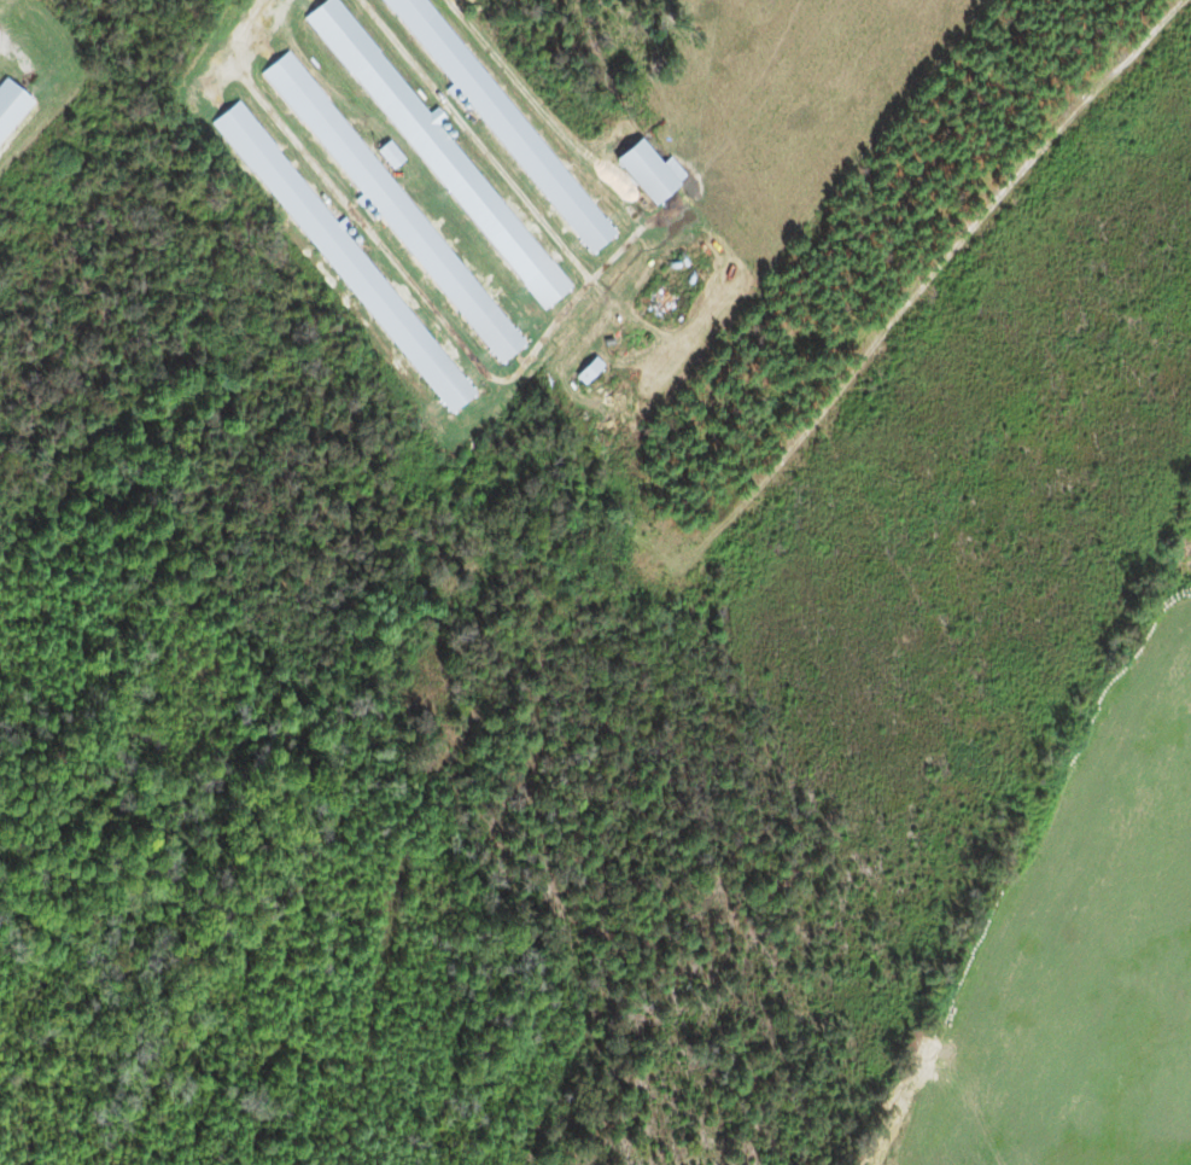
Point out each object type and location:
building: (10, 104)
building: (502, 124)
building: (438, 153)
building: (390, 156)
building: (646, 171)
building: (392, 208)
building: (343, 258)

